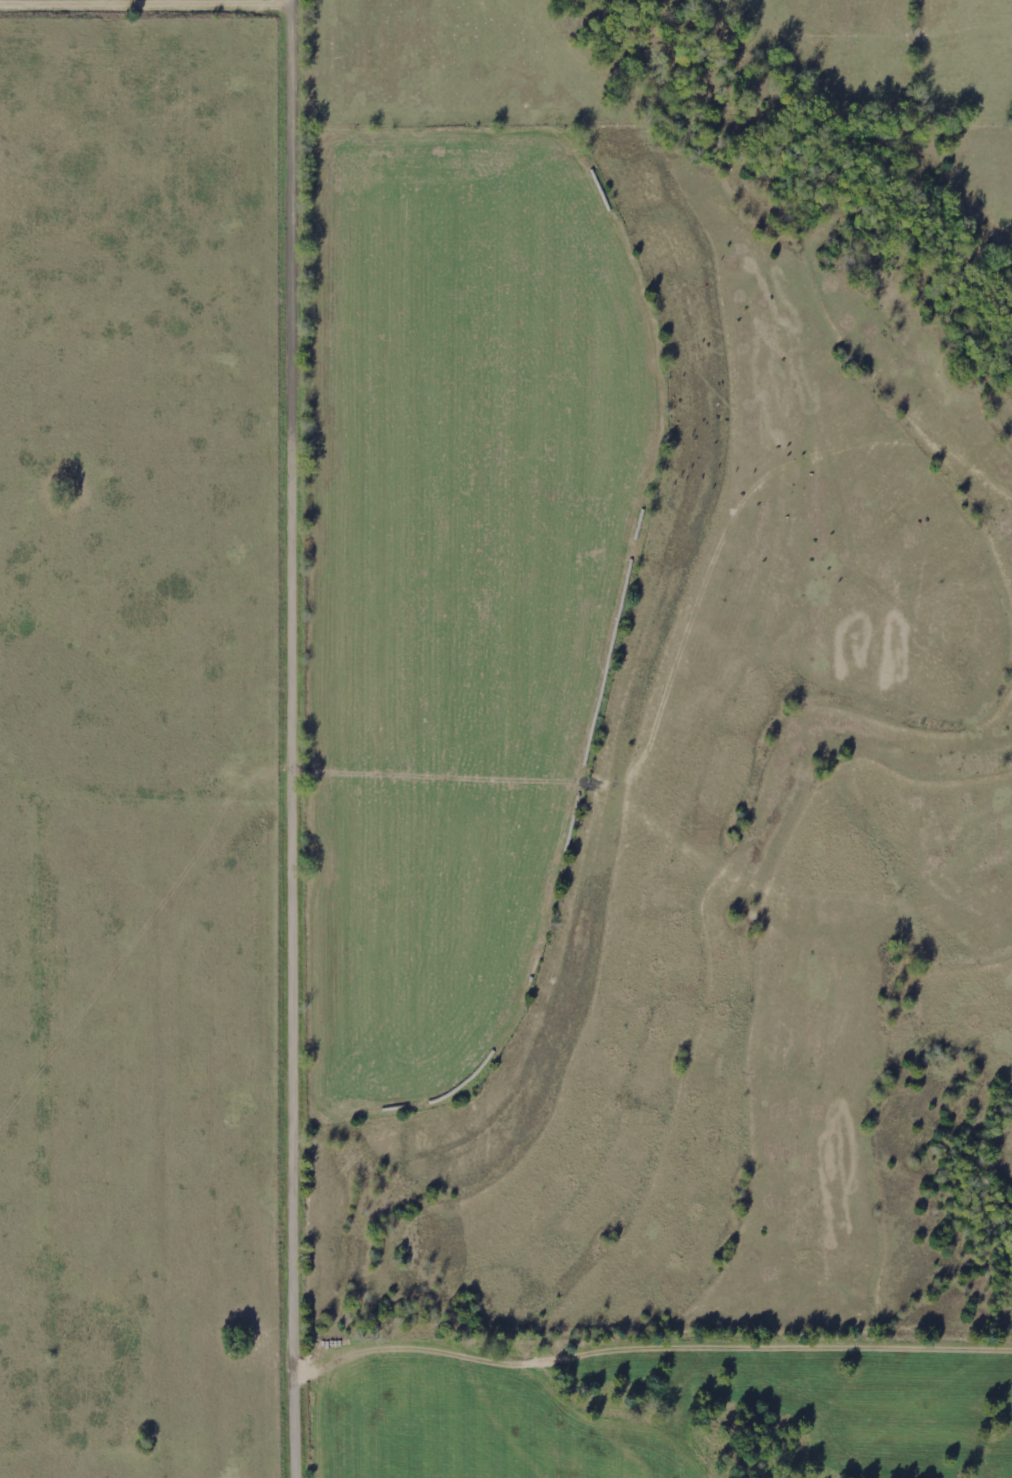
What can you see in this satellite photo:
road: (150, 8)
road: (300, 739)

